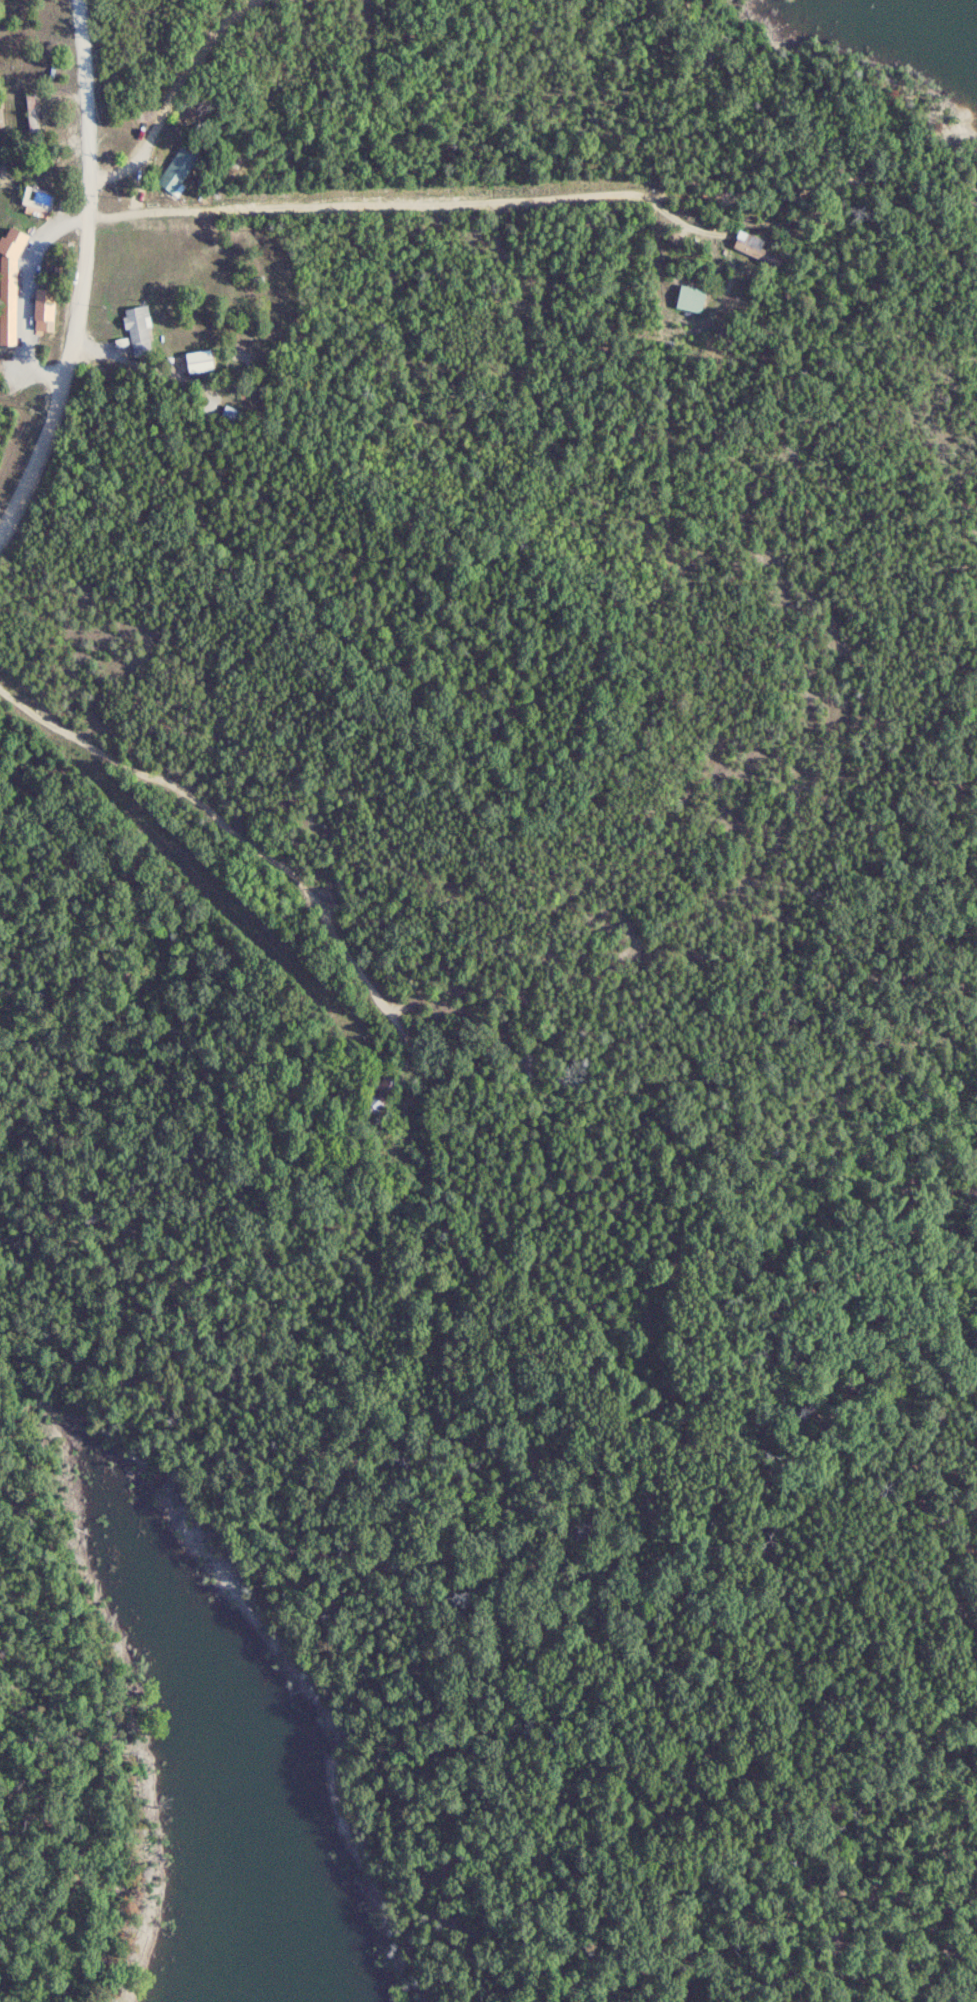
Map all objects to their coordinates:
road: (171, 97)
building: (31, 113)
road: (45, 145)
building: (178, 169)
road: (412, 202)
road: (82, 273)
building: (10, 284)
road: (25, 294)
building: (686, 297)
building: (45, 309)
building: (138, 330)
building: (198, 359)
building: (227, 411)

